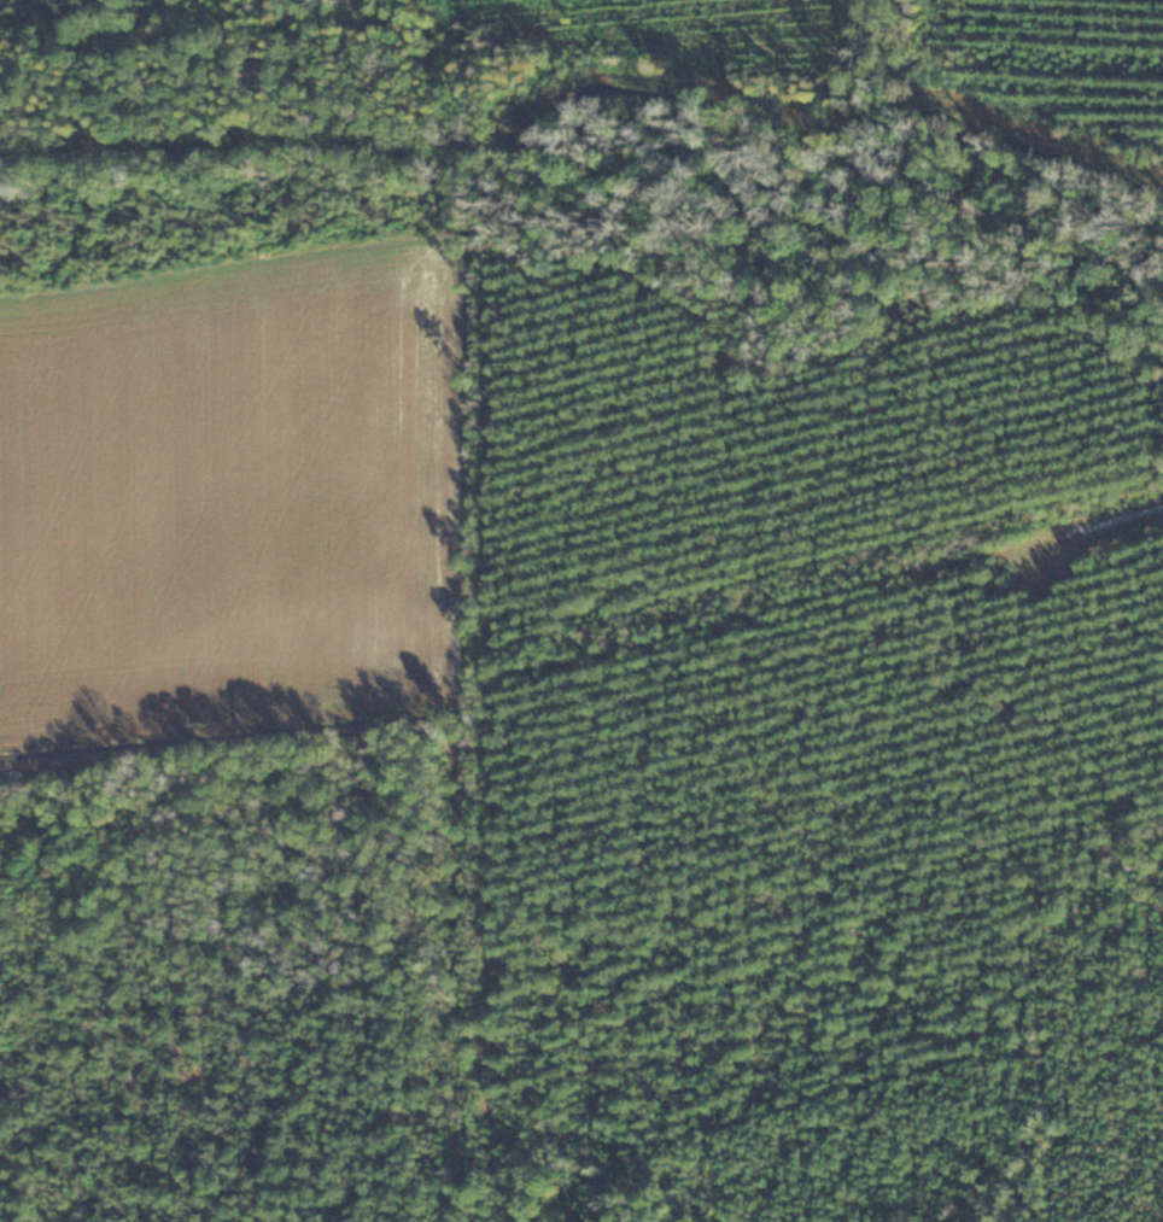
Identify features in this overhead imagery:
road: (1144, 503)

